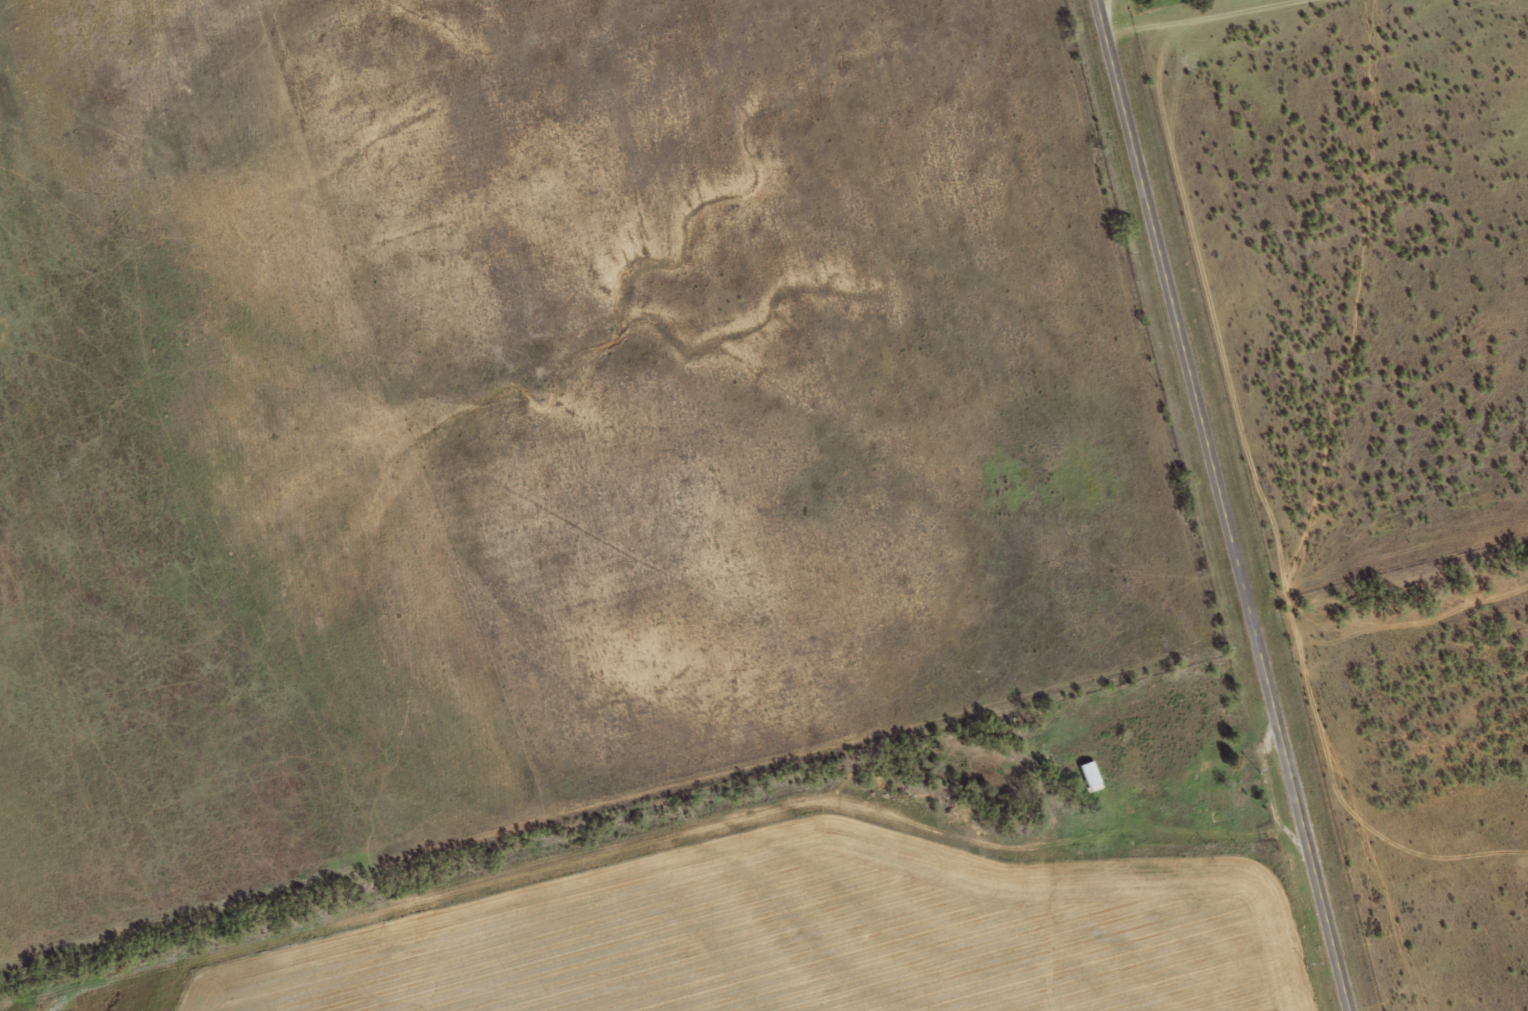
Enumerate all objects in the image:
road: (1220, 505)

